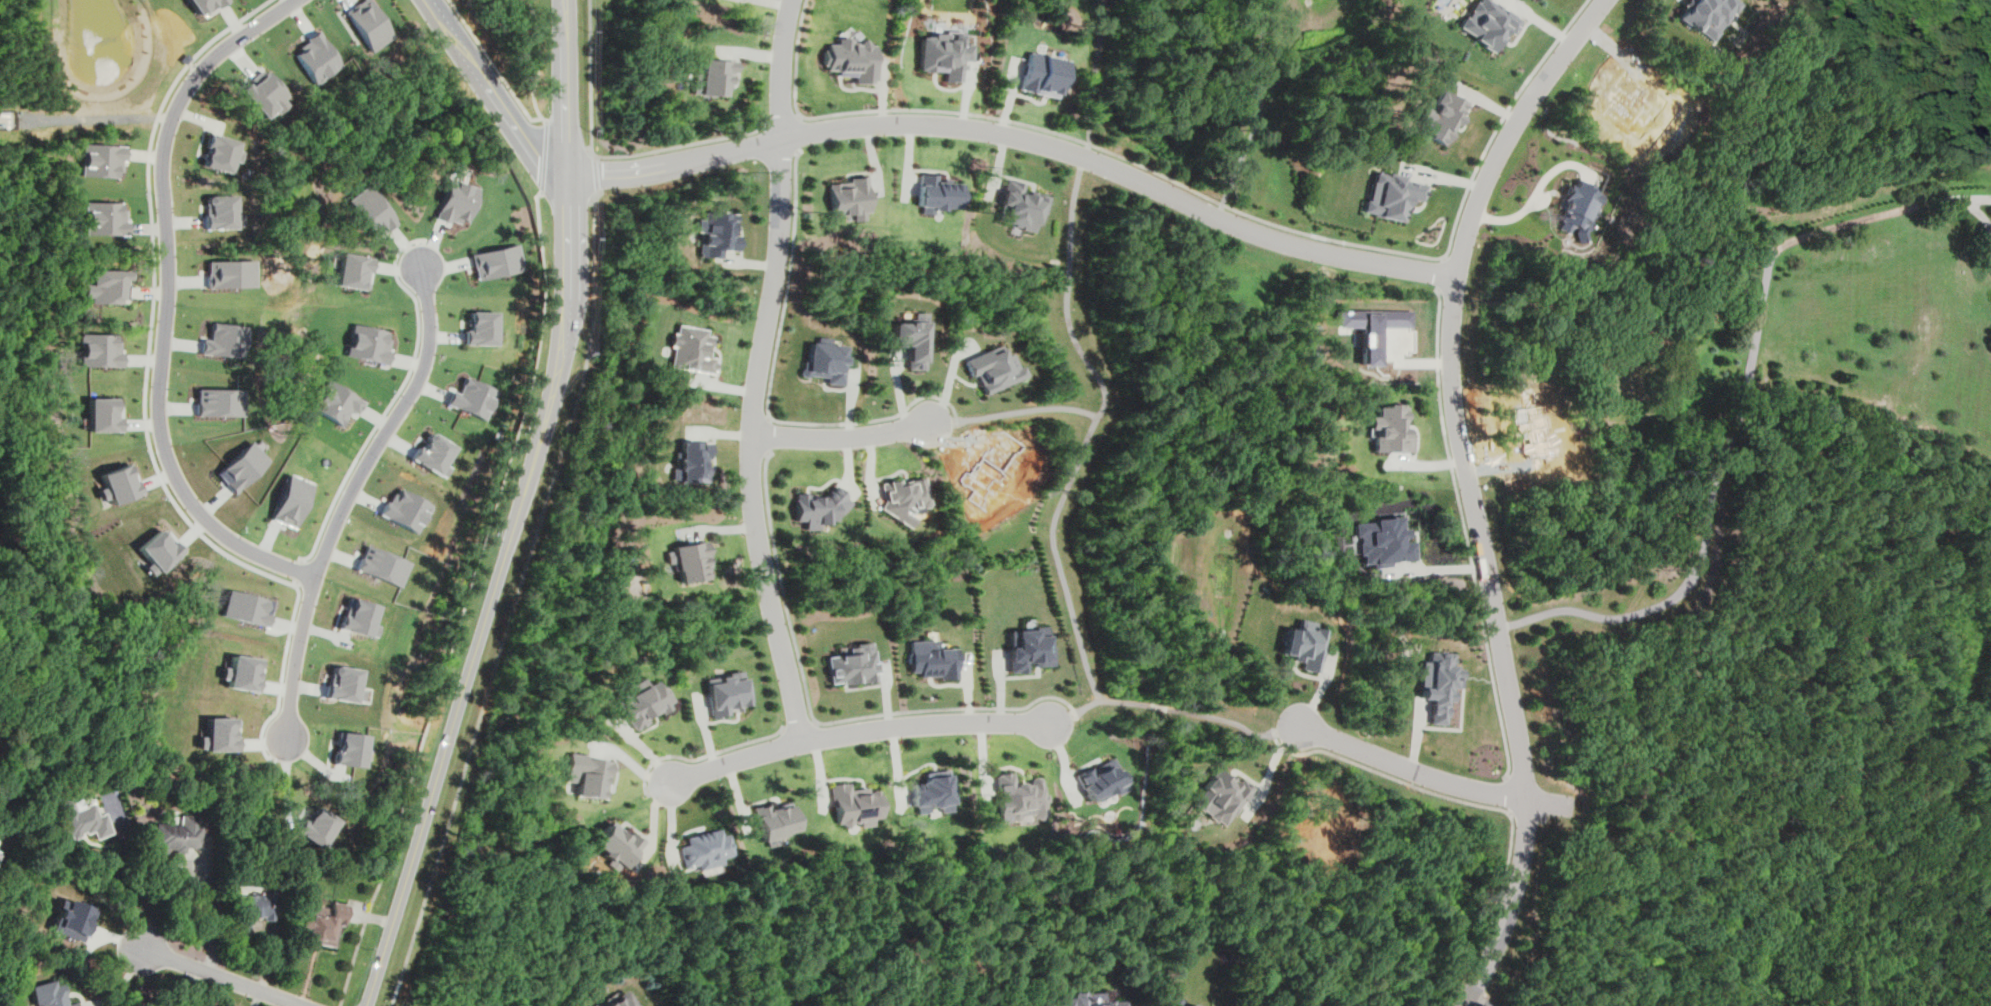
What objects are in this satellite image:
building: (202, 4)
building: (1705, 14)
building: (367, 23)
building: (1487, 23)
building: (944, 55)
building: (315, 56)
building: (183, 58)
building: (852, 59)
road: (1095, 70)
building: (1046, 74)
building: (712, 76)
building: (264, 94)
road: (493, 96)
road: (1259, 105)
road: (799, 115)
road: (96, 116)
building: (1441, 116)
road: (783, 122)
road: (798, 132)
road: (1020, 136)
road: (1088, 144)
building: (220, 152)
road: (1084, 155)
road: (596, 156)
road: (606, 156)
building: (102, 159)
road: (597, 173)
building: (938, 194)
road: (1207, 196)
building: (1388, 196)
building: (849, 197)
building: (456, 201)
road: (1220, 205)
building: (1021, 206)
building: (1577, 208)
building: (370, 210)
building: (222, 212)
road: (1217, 212)
building: (104, 218)
building: (716, 234)
road: (1443, 257)
building: (497, 261)
building: (352, 270)
building: (231, 273)
road: (1441, 273)
building: (105, 286)
road: (167, 305)
building: (1371, 326)
building: (480, 328)
building: (916, 339)
building: (224, 340)
building: (367, 343)
building: (693, 349)
building: (100, 350)
building: (827, 361)
building: (996, 367)
road: (762, 373)
road: (772, 386)
building: (472, 398)
building: (219, 402)
building: (335, 402)
road: (1028, 409)
building: (102, 414)
road: (771, 416)
road: (1741, 420)
road: (942, 422)
building: (1391, 430)
building: (1531, 430)
road: (1091, 433)
road: (769, 434)
road: (843, 438)
building: (432, 454)
building: (696, 461)
building: (242, 465)
building: (987, 472)
road: (1464, 477)
building: (115, 484)
building: (904, 498)
building: (290, 500)
road: (353, 500)
building: (819, 508)
building: (406, 509)
road: (519, 511)
road: (1464, 534)
building: (1383, 542)
building: (156, 551)
building: (691, 561)
building: (383, 565)
road: (1435, 568)
road: (783, 588)
road: (516, 599)
building: (244, 608)
building: (359, 618)
building: (1304, 643)
building: (1030, 647)
building: (933, 658)
building: (854, 664)
building: (239, 673)
building: (1437, 682)
building: (344, 684)
building: (726, 693)
road: (1111, 699)
building: (644, 703)
road: (1159, 706)
road: (950, 708)
road: (1221, 717)
road: (1062, 720)
road: (799, 728)
road: (1287, 728)
building: (216, 734)
road: (857, 737)
building: (350, 749)
road: (704, 756)
building: (589, 773)
road: (1434, 775)
building: (1102, 781)
building: (935, 791)
road: (1511, 793)
building: (1219, 796)
building: (1021, 798)
building: (855, 805)
road: (1480, 806)
road: (1508, 811)
road: (1527, 813)
building: (82, 819)
road: (1544, 819)
building: (776, 820)
building: (316, 826)
building: (1311, 828)
building: (176, 835)
building: (619, 844)
building: (706, 848)
road: (113, 885)
road: (2, 889)
building: (252, 909)
road: (209, 914)
building: (75, 917)
building: (322, 922)
road: (359, 938)
road: (223, 976)
road: (122, 981)
road: (1468, 992)
building: (50, 995)
building: (624, 1000)
building: (1085, 1000)
road: (1482, 1000)
building: (1189, 1005)

